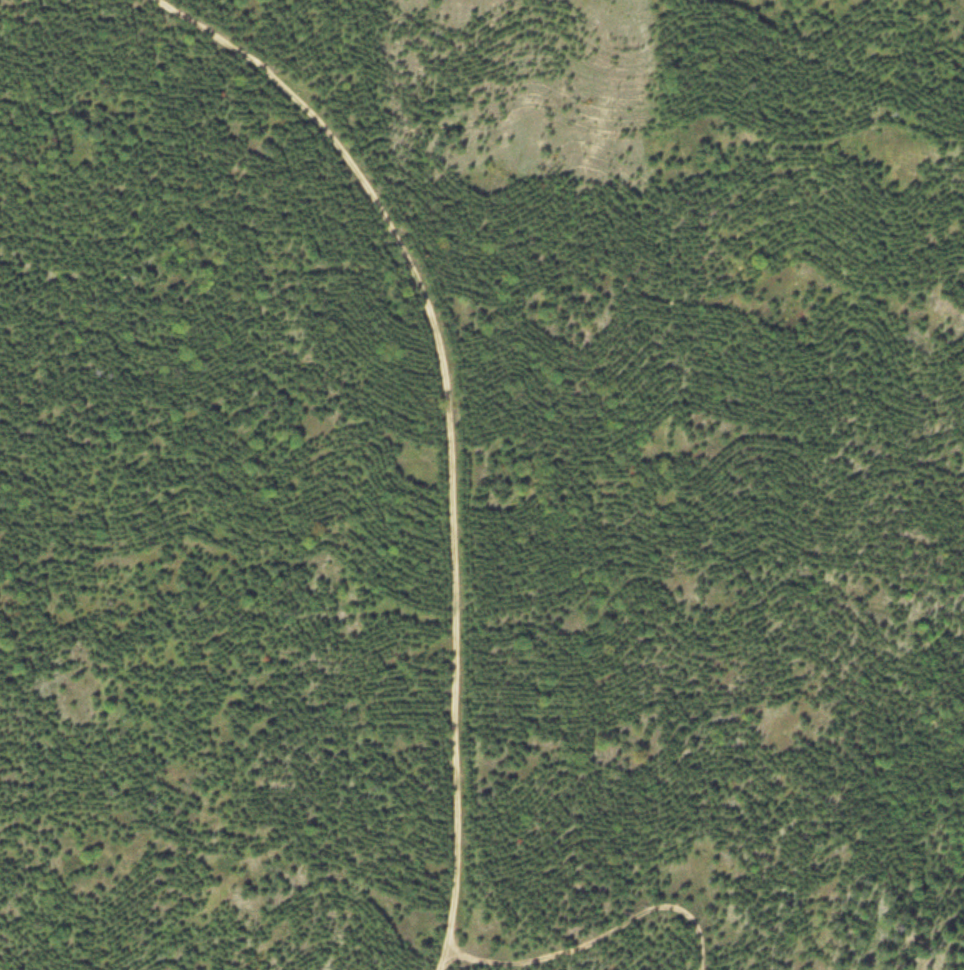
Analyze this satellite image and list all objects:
road: (453, 428)
road: (598, 937)

